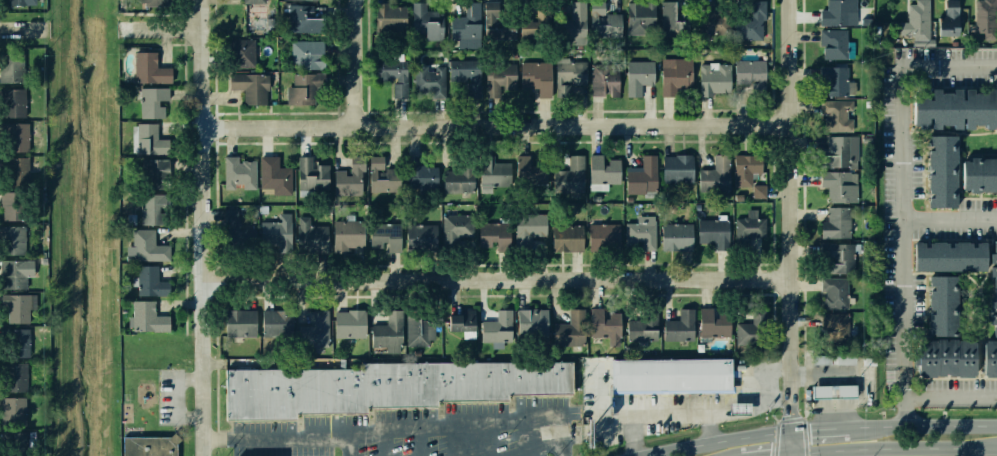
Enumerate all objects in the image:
building: (315, 0)
building: (154, 2)
building: (244, 2)
building: (21, 3)
building: (839, 11)
building: (569, 17)
building: (602, 17)
building: (708, 17)
building: (305, 18)
building: (511, 18)
building: (387, 19)
building: (640, 19)
building: (945, 19)
building: (983, 19)
building: (917, 20)
building: (425, 21)
building: (671, 22)
building: (752, 23)
building: (462, 28)
building: (528, 28)
road: (159, 29)
building: (752, 37)
building: (834, 40)
building: (239, 53)
building: (306, 53)
road: (351, 62)
building: (12, 67)
building: (148, 70)
building: (749, 70)
building: (528, 71)
building: (565, 73)
building: (677, 75)
building: (498, 76)
building: (389, 77)
building: (637, 77)
building: (831, 78)
building: (464, 79)
building: (602, 79)
building: (430, 81)
building: (711, 81)
building: (300, 89)
building: (248, 90)
building: (15, 102)
building: (155, 105)
building: (956, 109)
building: (836, 114)
road: (498, 125)
building: (18, 137)
building: (147, 140)
building: (837, 151)
building: (715, 167)
building: (746, 167)
building: (675, 168)
building: (524, 169)
building: (21, 171)
building: (602, 171)
building: (640, 171)
building: (237, 172)
building: (567, 172)
building: (944, 172)
building: (979, 172)
building: (379, 175)
building: (152, 176)
building: (273, 176)
building: (420, 176)
building: (487, 178)
building: (457, 179)
building: (311, 180)
road: (903, 183)
building: (346, 184)
building: (839, 187)
building: (759, 191)
building: (13, 206)
building: (153, 212)
road: (950, 219)
building: (834, 222)
building: (749, 227)
road: (200, 228)
building: (230, 228)
road: (797, 228)
building: (456, 231)
building: (523, 233)
building: (709, 233)
building: (270, 234)
building: (487, 234)
building: (341, 237)
building: (421, 237)
building: (600, 237)
building: (383, 238)
building: (636, 238)
building: (671, 238)
building: (311, 239)
building: (562, 239)
building: (13, 240)
building: (144, 247)
building: (950, 256)
building: (836, 259)
building: (17, 273)
building: (996, 273)
road: (499, 278)
building: (148, 283)
building: (832, 292)
building: (945, 304)
building: (15, 308)
building: (459, 319)
building: (144, 320)
building: (713, 320)
building: (241, 322)
building: (675, 323)
building: (276, 324)
building: (351, 324)
building: (639, 324)
building: (834, 324)
building: (310, 325)
building: (600, 325)
building: (530, 326)
building: (753, 329)
building: (418, 330)
building: (494, 330)
building: (564, 330)
building: (385, 336)
building: (13, 345)
building: (949, 357)
building: (992, 358)
building: (828, 361)
road: (770, 369)
building: (670, 377)
building: (11, 378)
building: (381, 387)
building: (832, 393)
road: (540, 394)
road: (751, 396)
road: (951, 396)
road: (463, 397)
road: (393, 405)
building: (739, 408)
road: (907, 411)
road: (325, 412)
building: (11, 413)
road: (666, 414)
road: (228, 425)
road: (931, 426)
road: (396, 429)
road: (852, 429)
road: (815, 432)
street lamp: (505, 434)
road: (527, 434)
traffic signals: (793, 434)
road: (215, 436)
road: (461, 439)
road: (717, 441)
road: (417, 442)
building: (15, 443)
road: (382, 443)
road: (346, 445)
building: (149, 446)
street lamp: (398, 447)
road: (893, 448)
road: (535, 449)
road: (559, 449)
road: (786, 455)
traffic signals: (791, 455)

